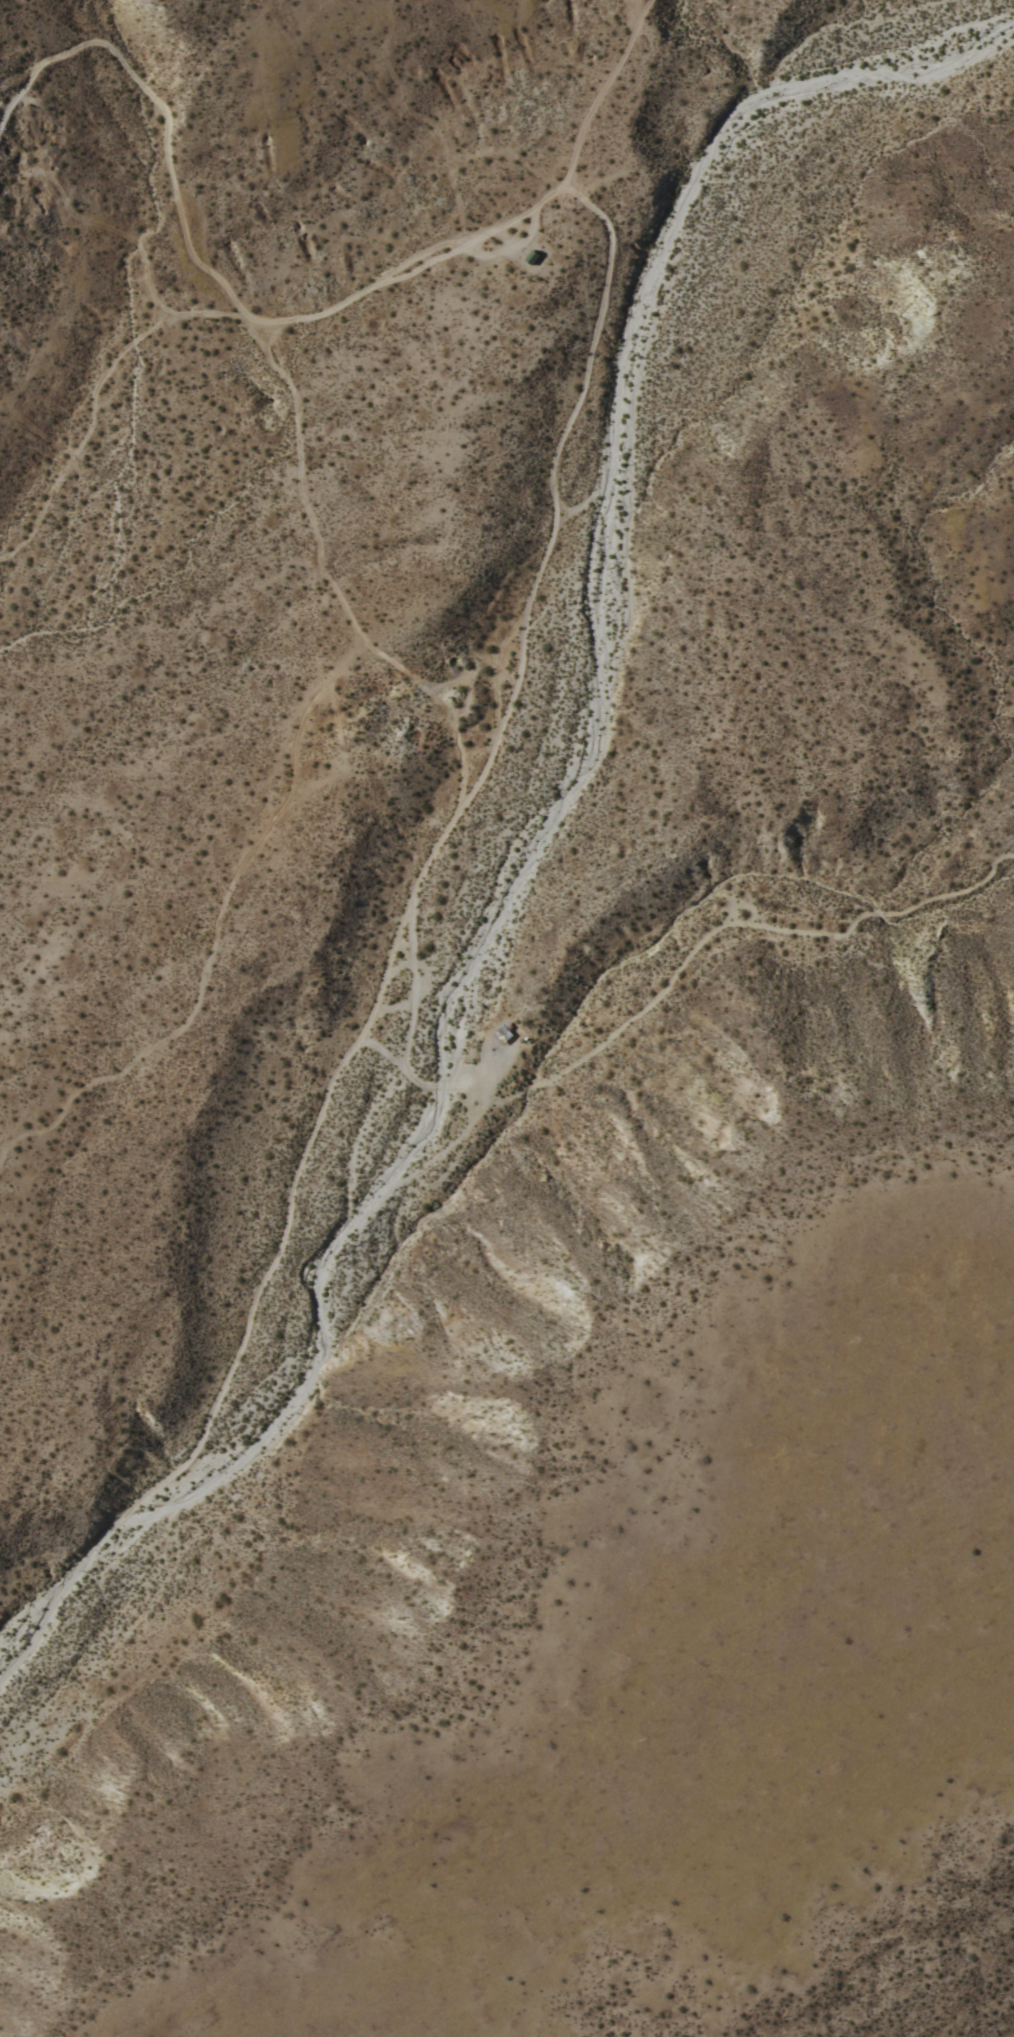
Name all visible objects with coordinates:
road: (600, 89)
road: (505, 248)
building: (530, 256)
road: (214, 275)
road: (574, 506)
road: (388, 955)
road: (684, 958)
road: (395, 967)
road: (390, 1008)
road: (408, 1024)
building: (501, 1034)
road: (382, 1052)
road: (483, 1077)
road: (116, 1644)

